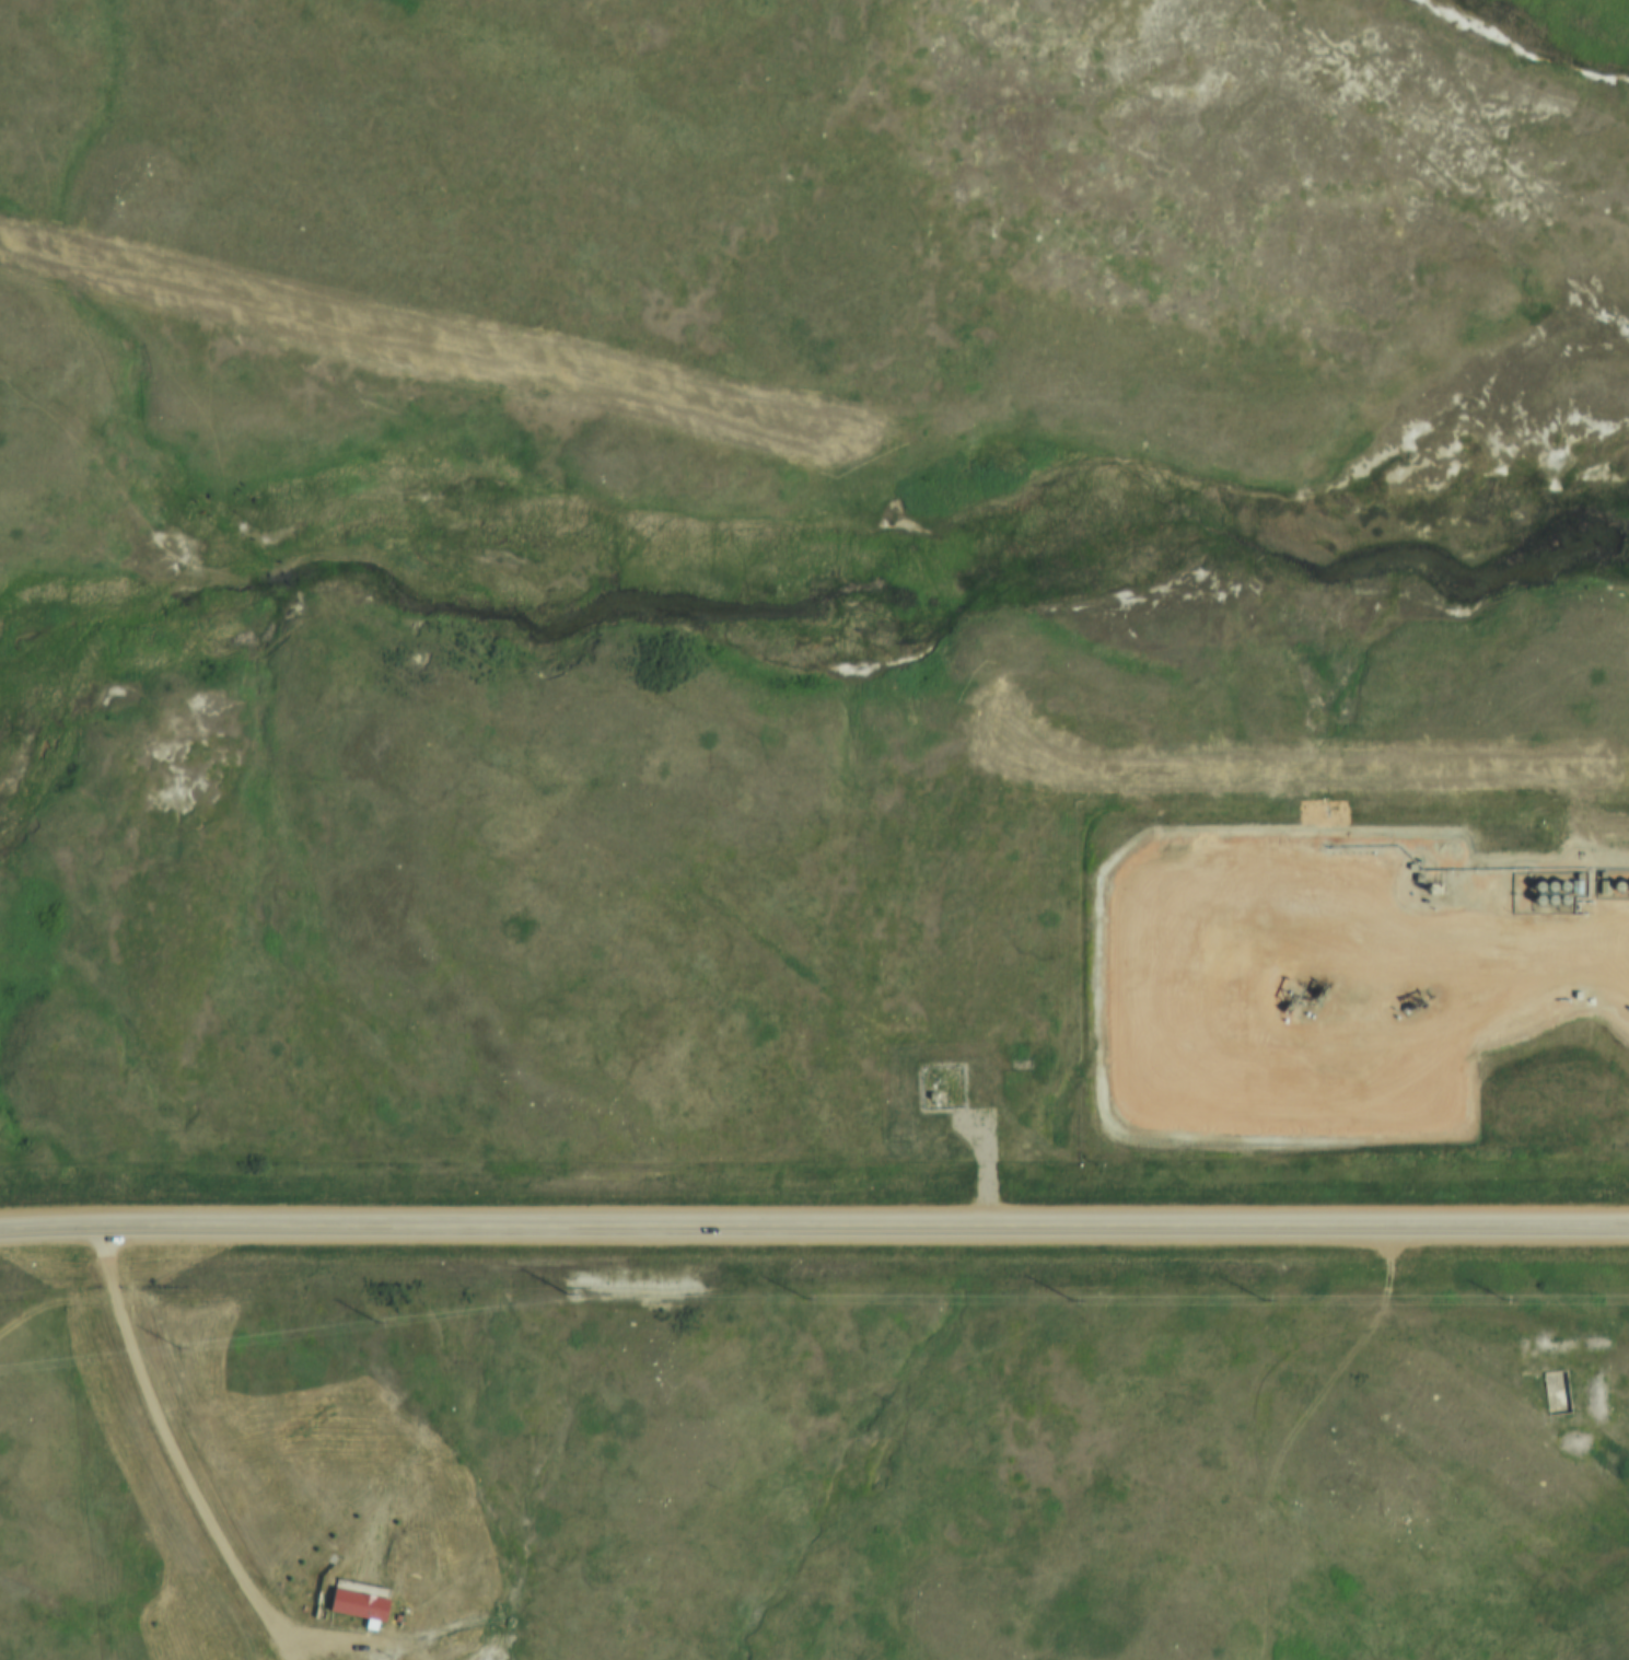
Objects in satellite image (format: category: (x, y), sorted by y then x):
building: (1614, 885)
storage tank: (1614, 885)
building: (1626, 885)
storage tank: (1626, 885)
building: (1534, 886)
storage tank: (1534, 886)
building: (1547, 887)
storage tank: (1547, 887)
building: (1560, 887)
storage tank: (1560, 887)
building: (1560, 899)
storage tank: (1560, 899)
building: (1548, 901)
storage tank: (1548, 901)
building: (1533, 902)
storage tank: (1533, 902)
road: (1597, 933)
road: (1597, 965)
petroleum well: (1290, 990)
petroleum well: (1313, 990)
petroleum well: (1409, 999)
road: (1266, 1023)
road: (814, 1230)
building: (1555, 1392)
road: (1267, 1412)
road: (176, 1438)
building: (356, 1600)

